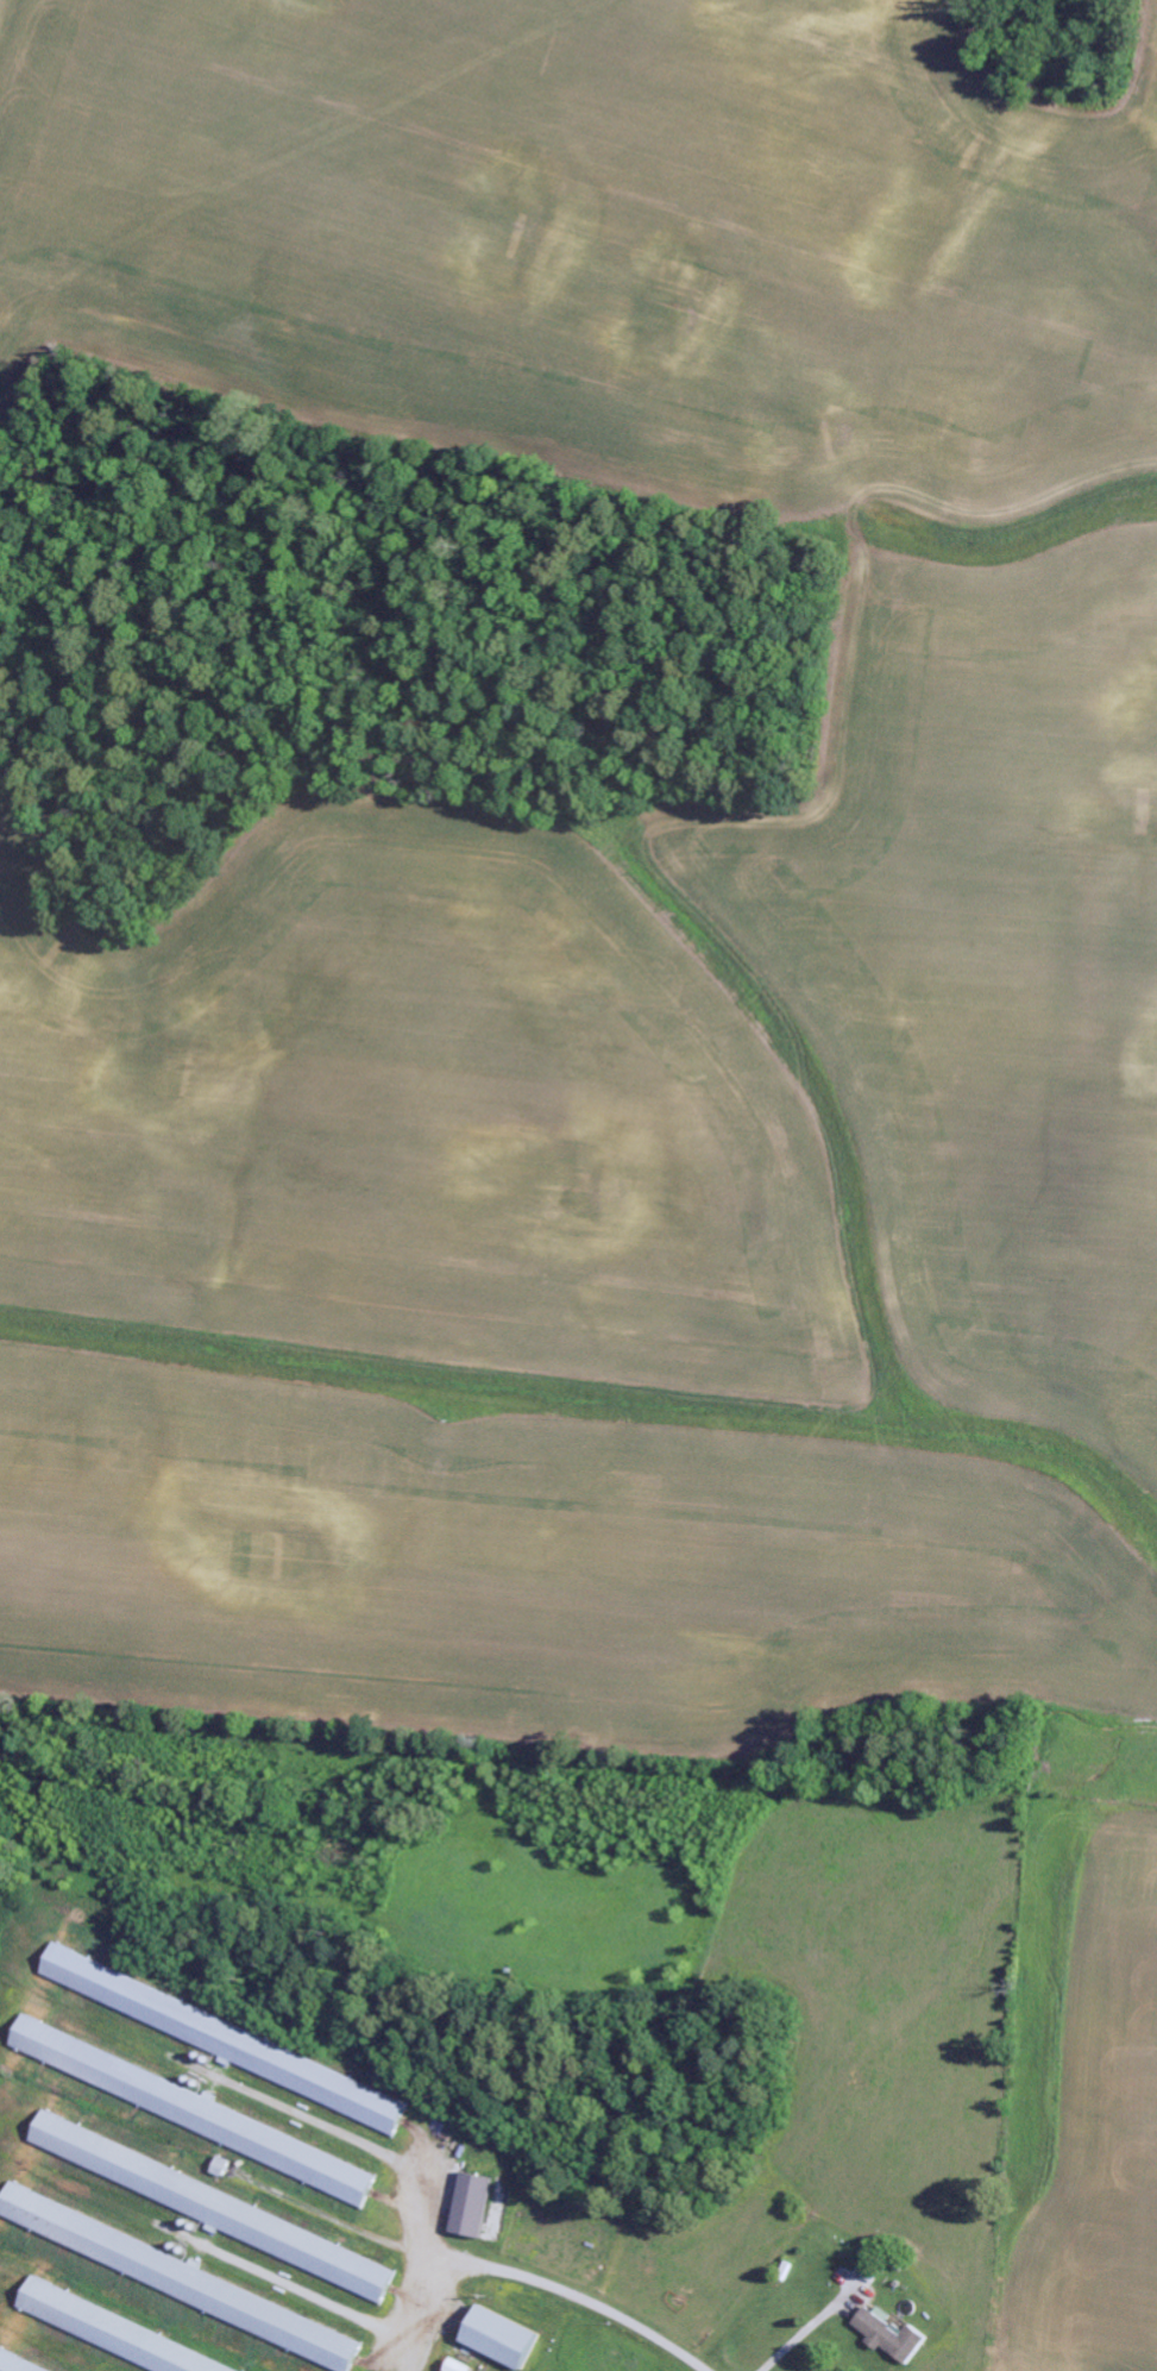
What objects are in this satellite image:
building: (231, 2039)
building: (186, 2106)
building: (225, 2166)
building: (480, 2206)
building: (218, 2207)
building: (186, 2279)
building: (114, 2333)
building: (897, 2334)
building: (509, 2338)
building: (15, 2364)
building: (465, 2366)

